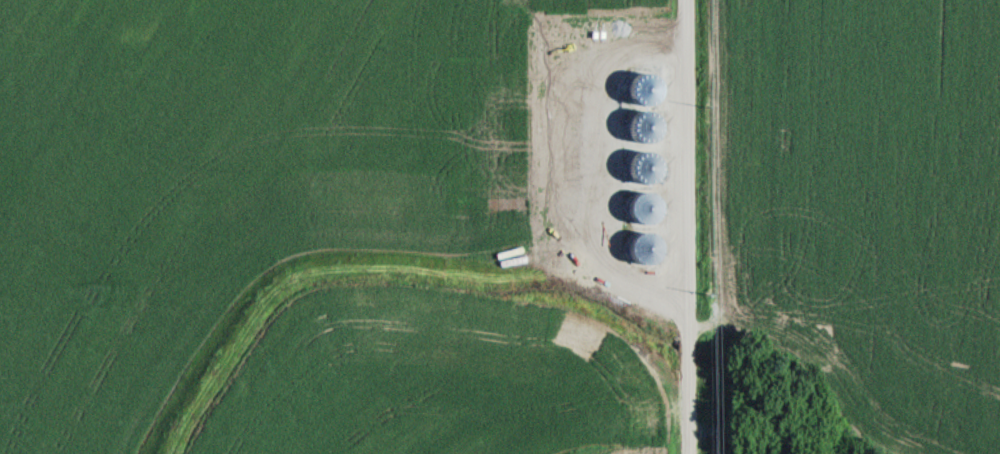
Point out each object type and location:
building: (645, 94)
building: (645, 170)
building: (643, 209)
road: (681, 227)
building: (644, 249)

